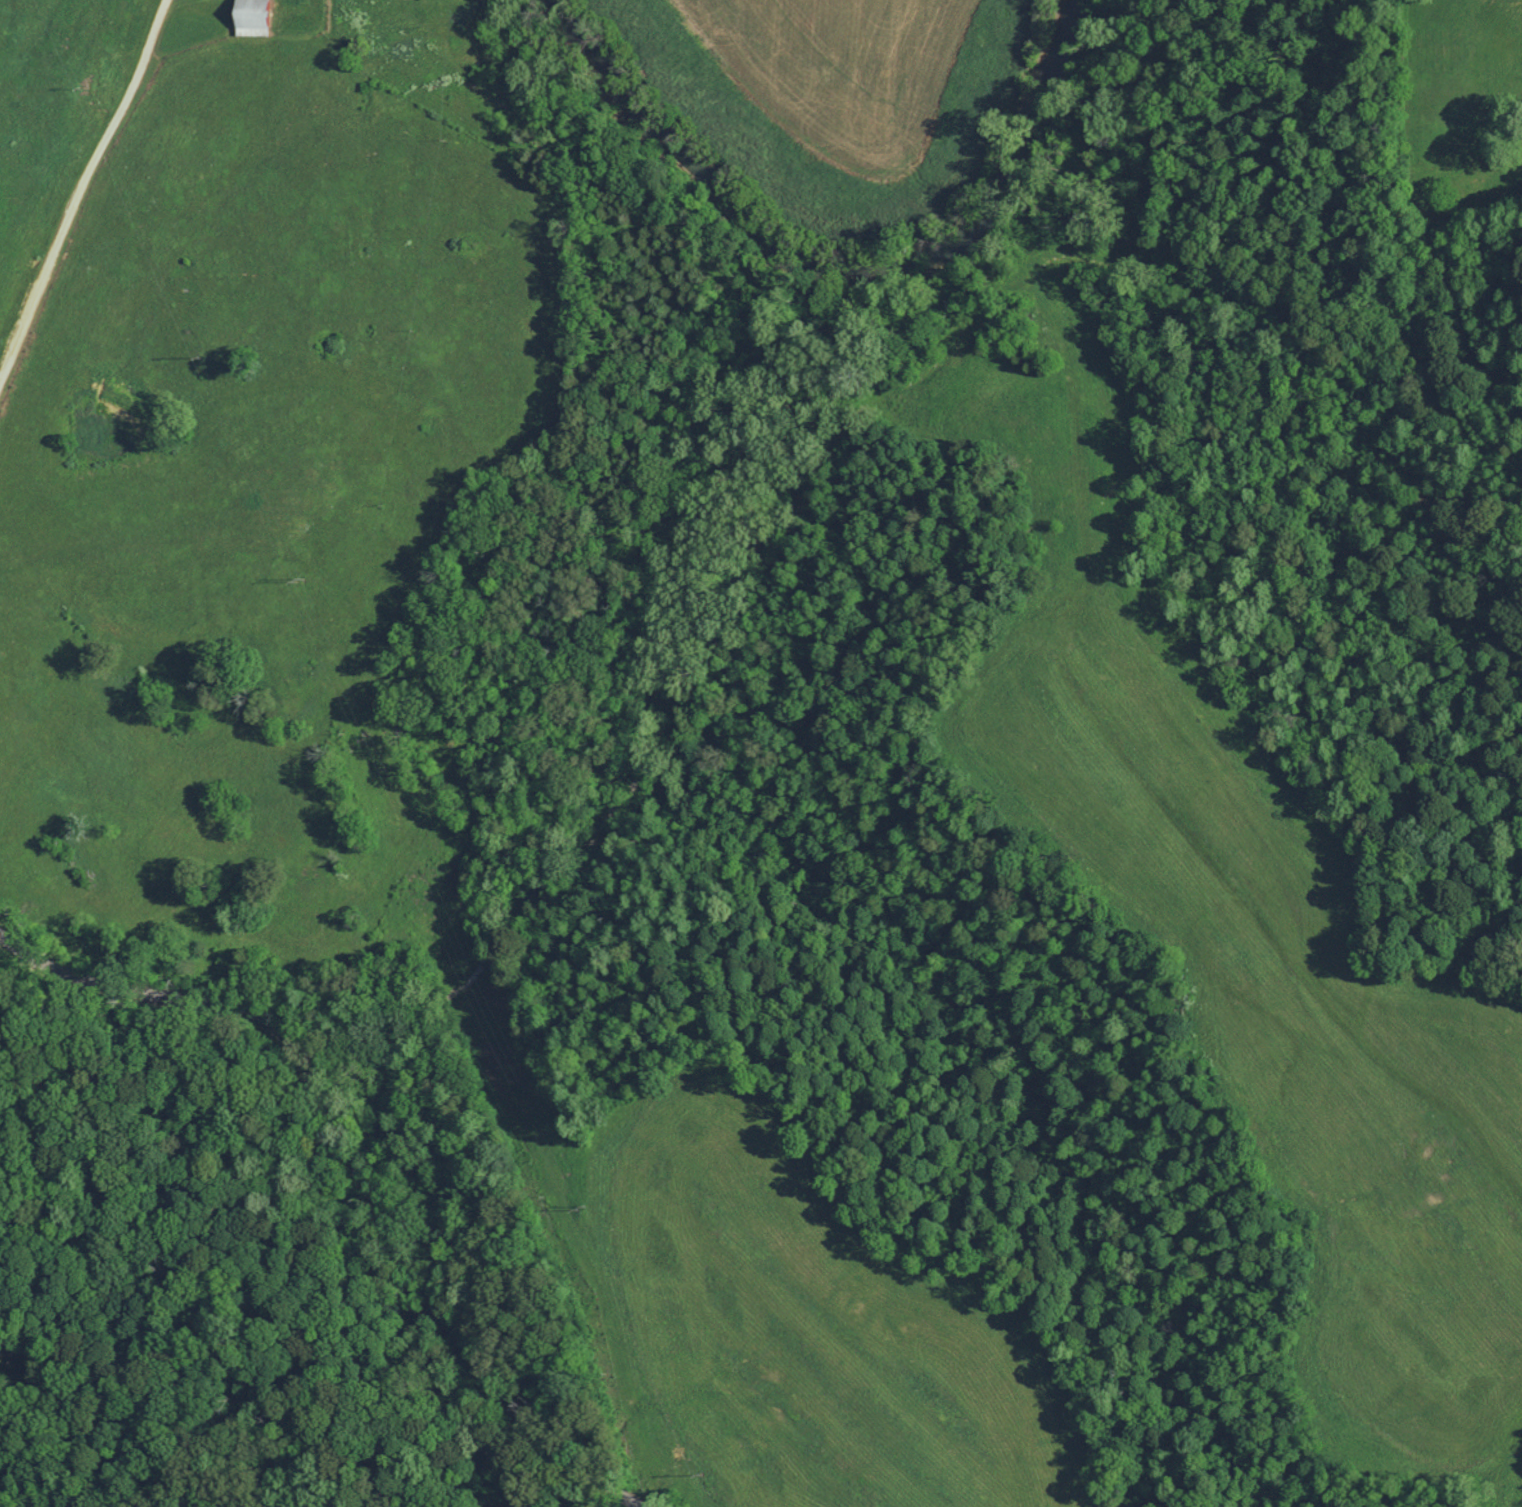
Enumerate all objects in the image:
building: (249, 17)
river: (841, 267)
road: (176, 1001)
road: (453, 1325)

